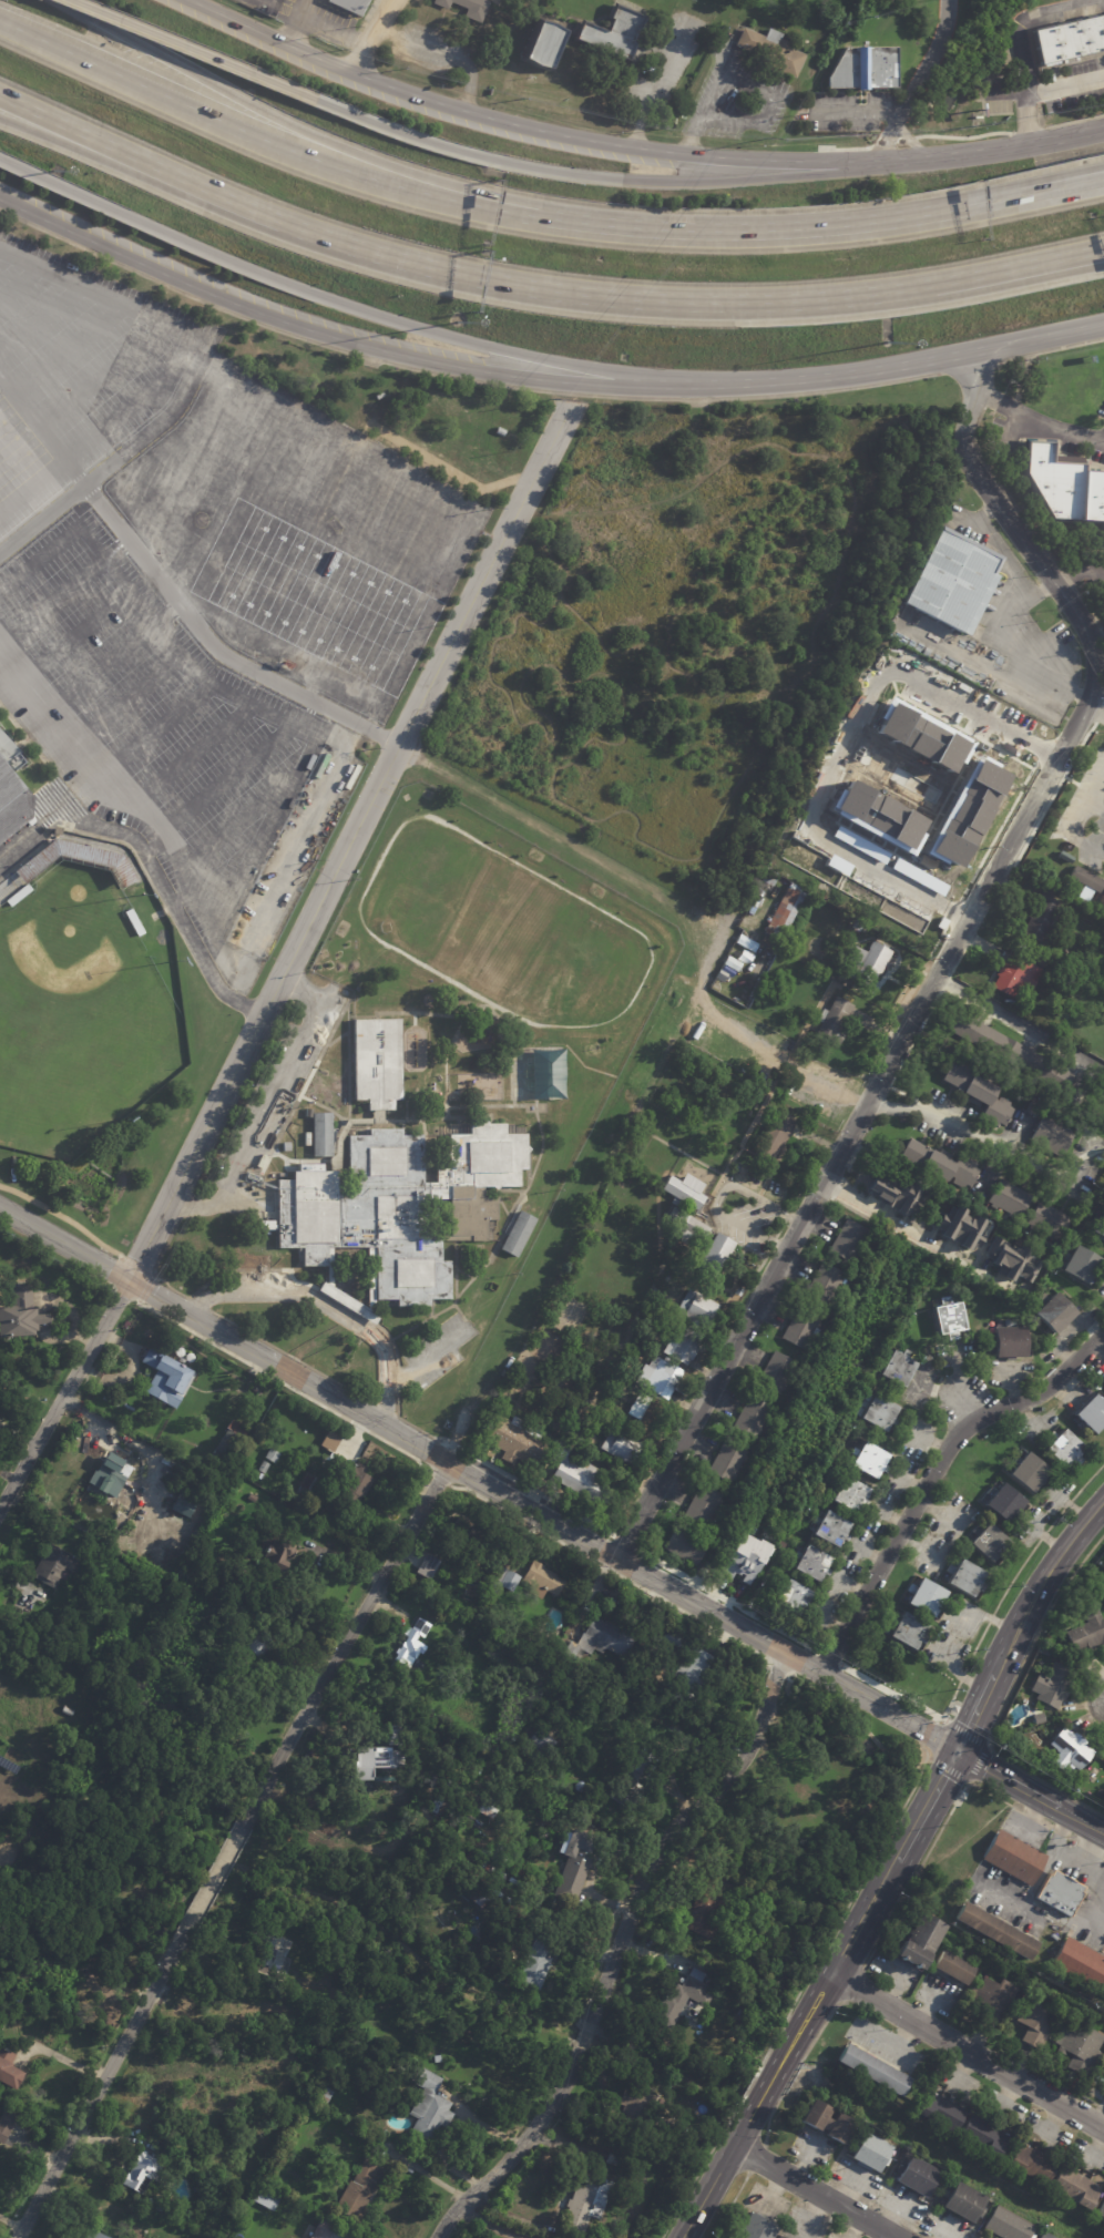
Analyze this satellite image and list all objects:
building: (355, 6)
road: (304, 8)
building: (470, 8)
road: (293, 28)
road: (333, 30)
road: (371, 34)
building: (615, 35)
building: (745, 40)
road: (1021, 42)
building: (1069, 42)
building: (546, 47)
road: (190, 51)
building: (774, 57)
road: (78, 63)
building: (863, 69)
road: (917, 83)
road: (747, 86)
road: (1046, 92)
road: (238, 98)
road: (858, 113)
road: (1074, 120)
road: (522, 127)
road: (1029, 130)
road: (964, 137)
road: (90, 140)
road: (893, 142)
road: (911, 143)
road: (845, 149)
road: (286, 151)
road: (89, 152)
road: (989, 152)
street lamp: (52, 170)
road: (590, 178)
road: (761, 231)
road: (19, 282)
road: (323, 298)
road: (635, 302)
road: (265, 313)
road: (40, 318)
street lamp: (457, 320)
road: (190, 336)
road: (1037, 340)
street lamp: (887, 343)
road: (1050, 349)
road: (61, 355)
road: (968, 368)
road: (454, 378)
road: (818, 378)
road: (605, 384)
road: (83, 390)
road: (1039, 420)
road: (102, 429)
building: (511, 436)
building: (1062, 484)
road: (42, 519)
road: (113, 569)
road: (1075, 573)
building: (947, 580)
parking lot: (198, 585)
road: (1042, 587)
road: (64, 592)
road: (172, 595)
road: (1019, 604)
road: (1102, 625)
road: (73, 636)
road: (1100, 654)
road: (111, 660)
road: (1103, 701)
road: (124, 702)
road: (307, 714)
road: (1094, 714)
road: (1098, 714)
road: (47, 721)
road: (1051, 734)
road: (152, 736)
building: (920, 736)
road: (847, 739)
road: (1042, 749)
road: (188, 756)
road: (228, 777)
road: (293, 783)
road: (1094, 787)
road: (1053, 791)
building: (12, 800)
road: (1094, 807)
building: (963, 811)
building: (877, 813)
road: (239, 822)
road: (998, 830)
building: (60, 831)
road: (1073, 836)
road: (350, 839)
road: (170, 841)
road: (152, 869)
building: (24, 872)
building: (768, 877)
building: (1085, 879)
road: (953, 911)
building: (783, 913)
building: (1039, 918)
building: (857, 927)
building: (1100, 932)
building: (740, 941)
road: (937, 941)
road: (945, 959)
building: (726, 962)
building: (1074, 962)
building: (865, 963)
building: (715, 974)
building: (1014, 975)
building: (817, 983)
park: (80, 1010)
building: (832, 1021)
road: (1016, 1022)
building: (1010, 1052)
road: (780, 1062)
building: (542, 1075)
parking lot: (276, 1084)
building: (727, 1087)
building: (978, 1093)
road: (268, 1105)
building: (1098, 1105)
building: (1030, 1110)
building: (776, 1136)
building: (1051, 1136)
road: (989, 1141)
building: (286, 1146)
building: (938, 1163)
road: (849, 1164)
building: (397, 1183)
building: (684, 1190)
road: (835, 1192)
building: (893, 1195)
road: (716, 1197)
road: (245, 1199)
building: (1008, 1199)
building: (1088, 1203)
road: (63, 1217)
parking lot: (745, 1218)
building: (1046, 1220)
building: (693, 1223)
building: (1097, 1223)
building: (264, 1224)
building: (962, 1228)
road: (910, 1233)
building: (517, 1234)
building: (847, 1240)
road: (64, 1244)
building: (716, 1256)
building: (1009, 1259)
building: (1080, 1265)
road: (257, 1270)
road: (151, 1275)
building: (824, 1284)
building: (736, 1290)
road: (197, 1302)
road: (325, 1307)
building: (695, 1309)
building: (1053, 1312)
building: (22, 1315)
building: (949, 1318)
building: (832, 1321)
building: (799, 1329)
building: (1008, 1341)
building: (683, 1346)
parking lot: (435, 1352)
road: (290, 1357)
road: (428, 1357)
building: (897, 1368)
road: (288, 1371)
building: (775, 1373)
road: (397, 1378)
building: (171, 1379)
building: (661, 1379)
road: (285, 1384)
road: (64, 1393)
building: (499, 1394)
road: (385, 1409)
building: (644, 1412)
building: (878, 1413)
building: (1092, 1413)
building: (752, 1417)
building: (224, 1419)
building: (448, 1424)
road: (411, 1425)
building: (329, 1440)
building: (513, 1442)
road: (454, 1444)
building: (232, 1445)
building: (621, 1445)
building: (1065, 1450)
building: (273, 1455)
building: (868, 1460)
building: (727, 1462)
building: (264, 1467)
building: (249, 1469)
building: (1028, 1473)
building: (112, 1474)
building: (355, 1474)
road: (933, 1475)
building: (577, 1476)
road: (439, 1479)
building: (306, 1488)
road: (538, 1491)
building: (847, 1494)
building: (254, 1498)
building: (188, 1503)
building: (702, 1505)
building: (1003, 1505)
building: (829, 1530)
building: (459, 1537)
road: (626, 1543)
building: (987, 1543)
building: (685, 1546)
building: (279, 1557)
building: (742, 1557)
building: (811, 1564)
building: (55, 1565)
building: (426, 1566)
road: (613, 1572)
building: (492, 1574)
building: (1088, 1575)
building: (965, 1578)
building: (544, 1581)
road: (1044, 1581)
building: (505, 1582)
building: (791, 1597)
building: (924, 1598)
road: (729, 1601)
road: (702, 1607)
building: (904, 1631)
road: (982, 1633)
building: (1084, 1634)
building: (609, 1637)
building: (677, 1641)
road: (345, 1643)
building: (262, 1646)
building: (574, 1647)
building: (413, 1648)
building: (1042, 1651)
building: (676, 1654)
road: (829, 1658)
road: (776, 1672)
building: (694, 1676)
building: (1050, 1686)
road: (1008, 1696)
road: (978, 1709)
building: (69, 1711)
building: (1036, 1718)
road: (849, 1721)
road: (928, 1730)
building: (398, 1735)
building: (542, 1749)
building: (1067, 1749)
traffic signals: (957, 1750)
building: (380, 1761)
road: (945, 1770)
building: (638, 1780)
road: (1030, 1790)
road: (926, 1805)
building: (485, 1808)
road: (1039, 1820)
road: (1071, 1839)
road: (1088, 1849)
road: (927, 1853)
building: (1014, 1856)
building: (580, 1857)
road: (1103, 1857)
road: (1047, 1861)
road: (1079, 1861)
building: (487, 1863)
road: (211, 1882)
building: (1056, 1890)
building: (476, 1891)
road: (1009, 1900)
building: (706, 1915)
building: (993, 1929)
road: (1103, 1932)
building: (918, 1939)
building: (283, 1951)
road: (616, 1951)
building: (543, 1960)
building: (1076, 1960)
building: (952, 1966)
building: (1053, 1976)
road: (852, 1984)
building: (1101, 1984)
road: (798, 1992)
building: (994, 1994)
building: (681, 2000)
building: (1034, 2023)
building: (1077, 2046)
road: (788, 2048)
road: (968, 2051)
building: (320, 2055)
building: (439, 2060)
road: (795, 2068)
building: (868, 2068)
building: (10, 2071)
road: (98, 2089)
building: (324, 2094)
road: (1093, 2103)
building: (431, 2108)
building: (937, 2109)
building: (634, 2116)
building: (826, 2121)
building: (8, 2125)
building: (346, 2127)
building: (982, 2135)
building: (868, 2153)
road: (756, 2158)
building: (616, 2159)
building: (645, 2160)
building: (1031, 2162)
building: (139, 2171)
building: (916, 2176)
building: (1074, 2187)
building: (360, 2189)
road: (814, 2191)
building: (262, 2195)
building: (591, 2201)
building: (962, 2204)
building: (155, 2205)
road: (729, 2205)
building: (1101, 2210)
building: (165, 2214)
building: (1005, 2224)
building: (317, 2228)
building: (758, 2228)
building: (91, 2235)
building: (1043, 2235)
building: (783, 2237)
building: (791, 2237)

